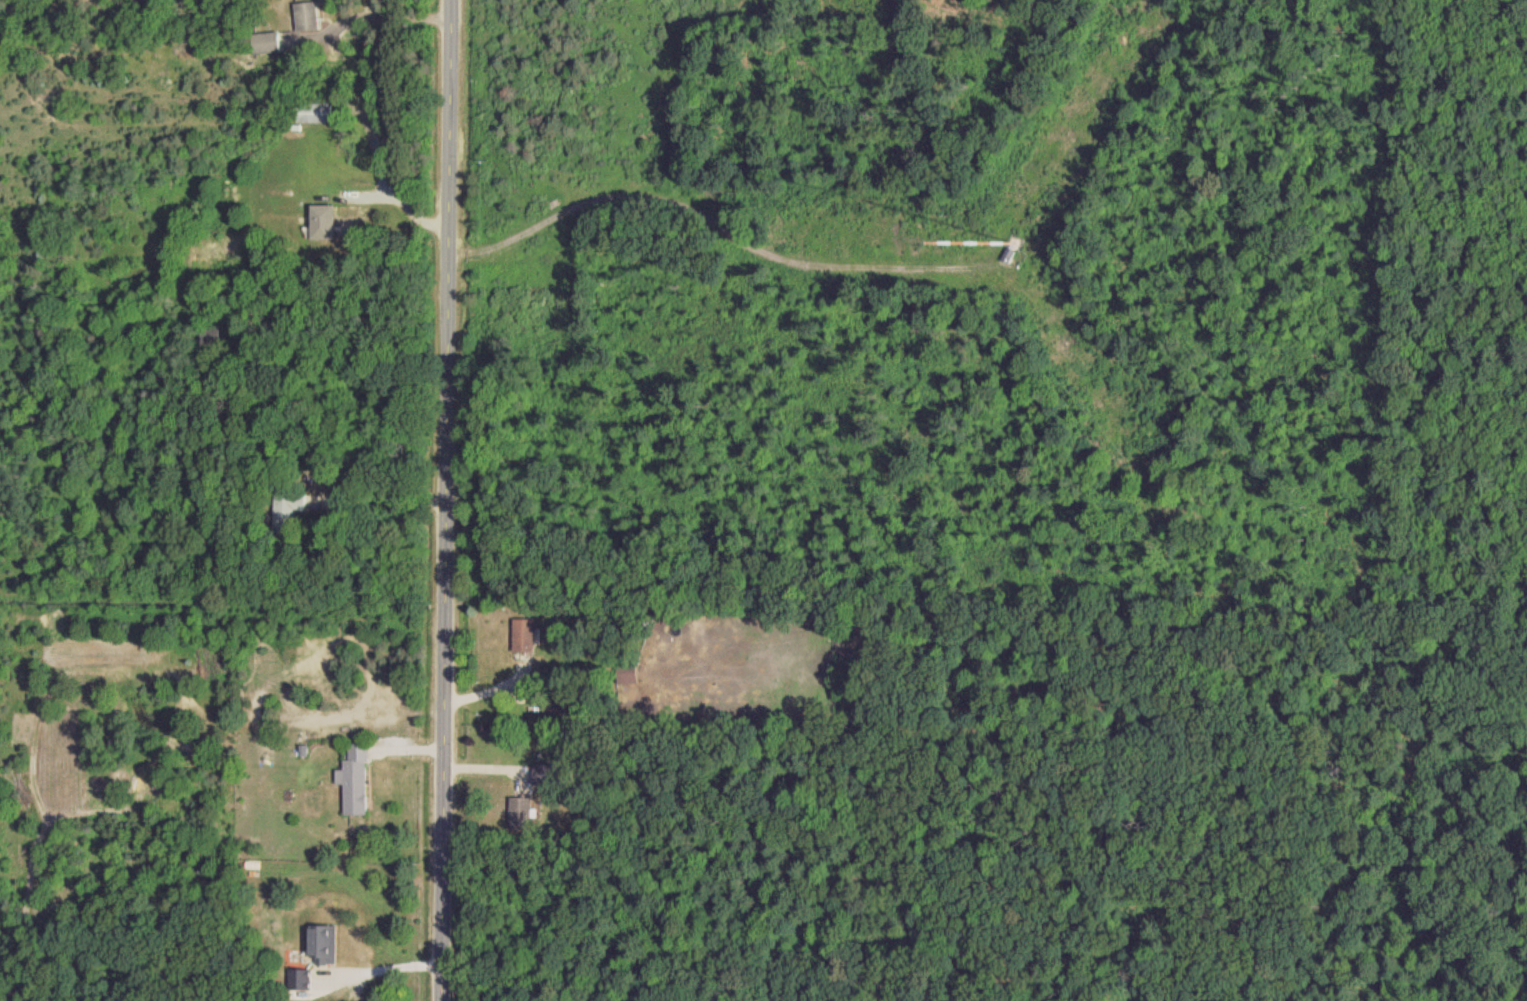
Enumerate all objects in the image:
road: (369, 13)
building: (306, 16)
building: (266, 42)
building: (314, 112)
road: (399, 198)
building: (322, 222)
road: (712, 225)
road: (440, 500)
road: (384, 506)
building: (288, 509)
building: (524, 635)
road: (487, 689)
building: (555, 707)
building: (545, 774)
building: (355, 779)
building: (519, 813)
building: (322, 944)
road: (381, 968)
building: (293, 981)

